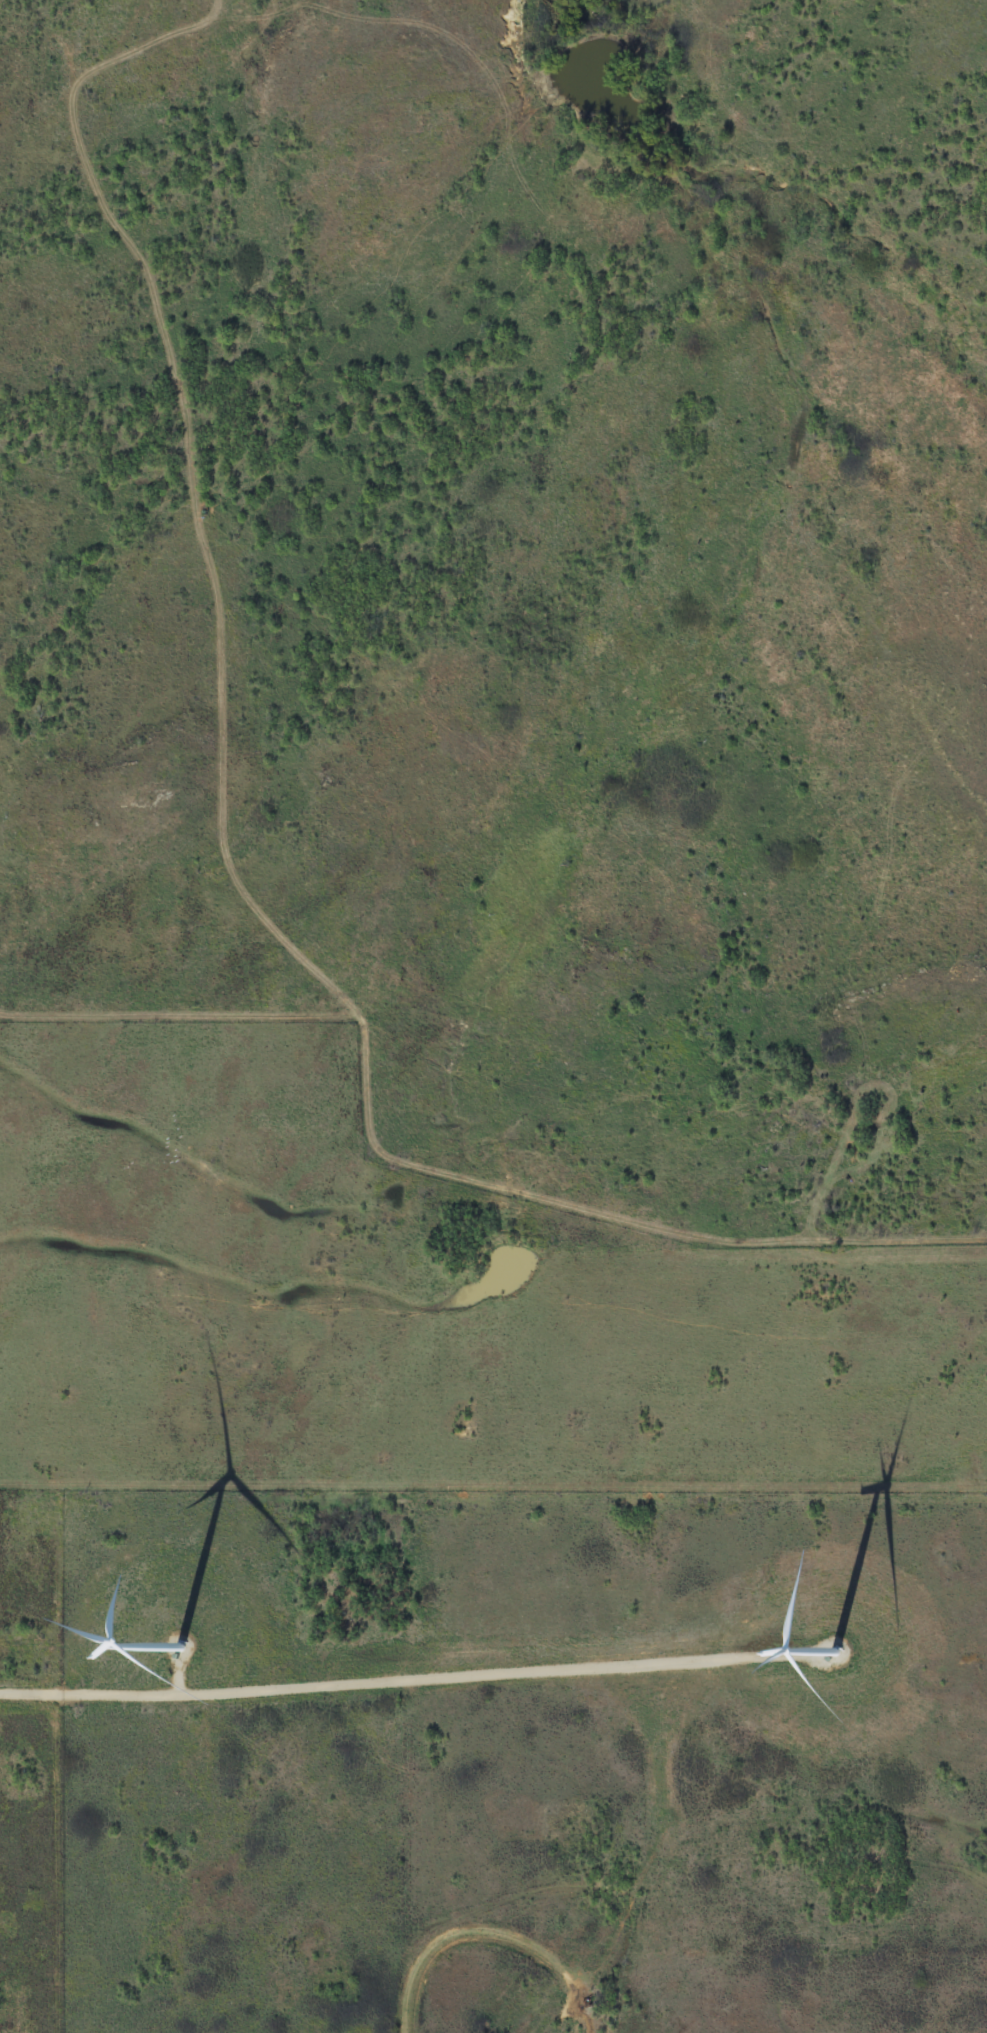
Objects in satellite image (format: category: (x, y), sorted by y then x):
road: (927, 1204)
road: (376, 1493)
wind turbine: (842, 1632)
wind turbine: (198, 1642)
road: (412, 1674)

